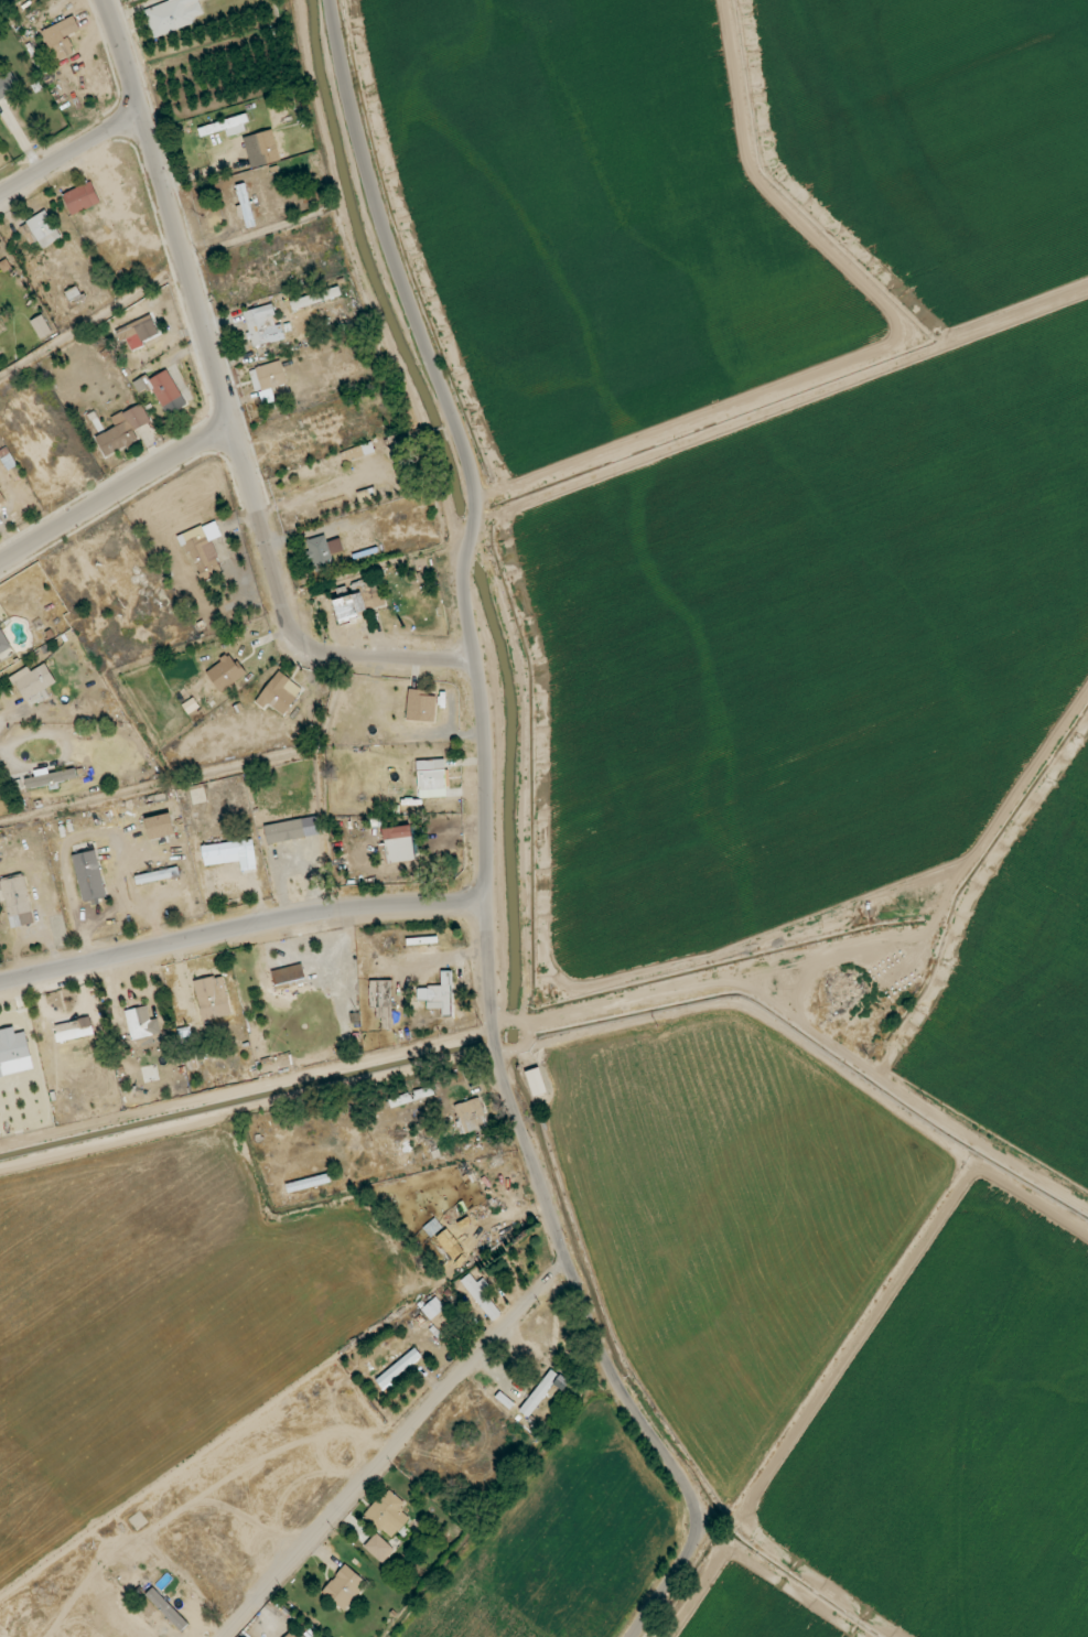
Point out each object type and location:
road: (9, 4)
building: (174, 15)
building: (61, 37)
building: (8, 85)
building: (226, 127)
building: (267, 147)
road: (71, 154)
building: (82, 197)
building: (246, 205)
building: (44, 228)
building: (28, 234)
road: (397, 269)
building: (315, 298)
road: (93, 322)
building: (262, 325)
building: (41, 326)
building: (139, 329)
building: (268, 380)
building: (164, 388)
road: (782, 397)
road: (227, 407)
building: (122, 430)
building: (357, 452)
road: (116, 494)
building: (1, 498)
road: (470, 542)
building: (203, 549)
building: (323, 552)
building: (360, 601)
building: (3, 643)
building: (225, 672)
building: (33, 681)
building: (279, 693)
building: (421, 706)
road: (438, 708)
building: (431, 774)
building: (49, 777)
road: (160, 783)
road: (323, 783)
road: (1020, 811)
building: (159, 826)
building: (284, 831)
building: (398, 844)
building: (229, 853)
building: (88, 876)
building: (13, 895)
road: (937, 920)
road: (240, 930)
road: (497, 976)
building: (288, 977)
building: (438, 994)
building: (212, 998)
building: (381, 1000)
road: (617, 1019)
building: (142, 1025)
building: (74, 1028)
road: (545, 1043)
building: (14, 1052)
road: (852, 1056)
building: (536, 1081)
building: (470, 1116)
road: (517, 1120)
road: (1070, 1213)
building: (482, 1297)
building: (432, 1308)
building: (539, 1392)
road: (801, 1417)
road: (389, 1445)
building: (388, 1512)
building: (379, 1548)
building: (345, 1587)

